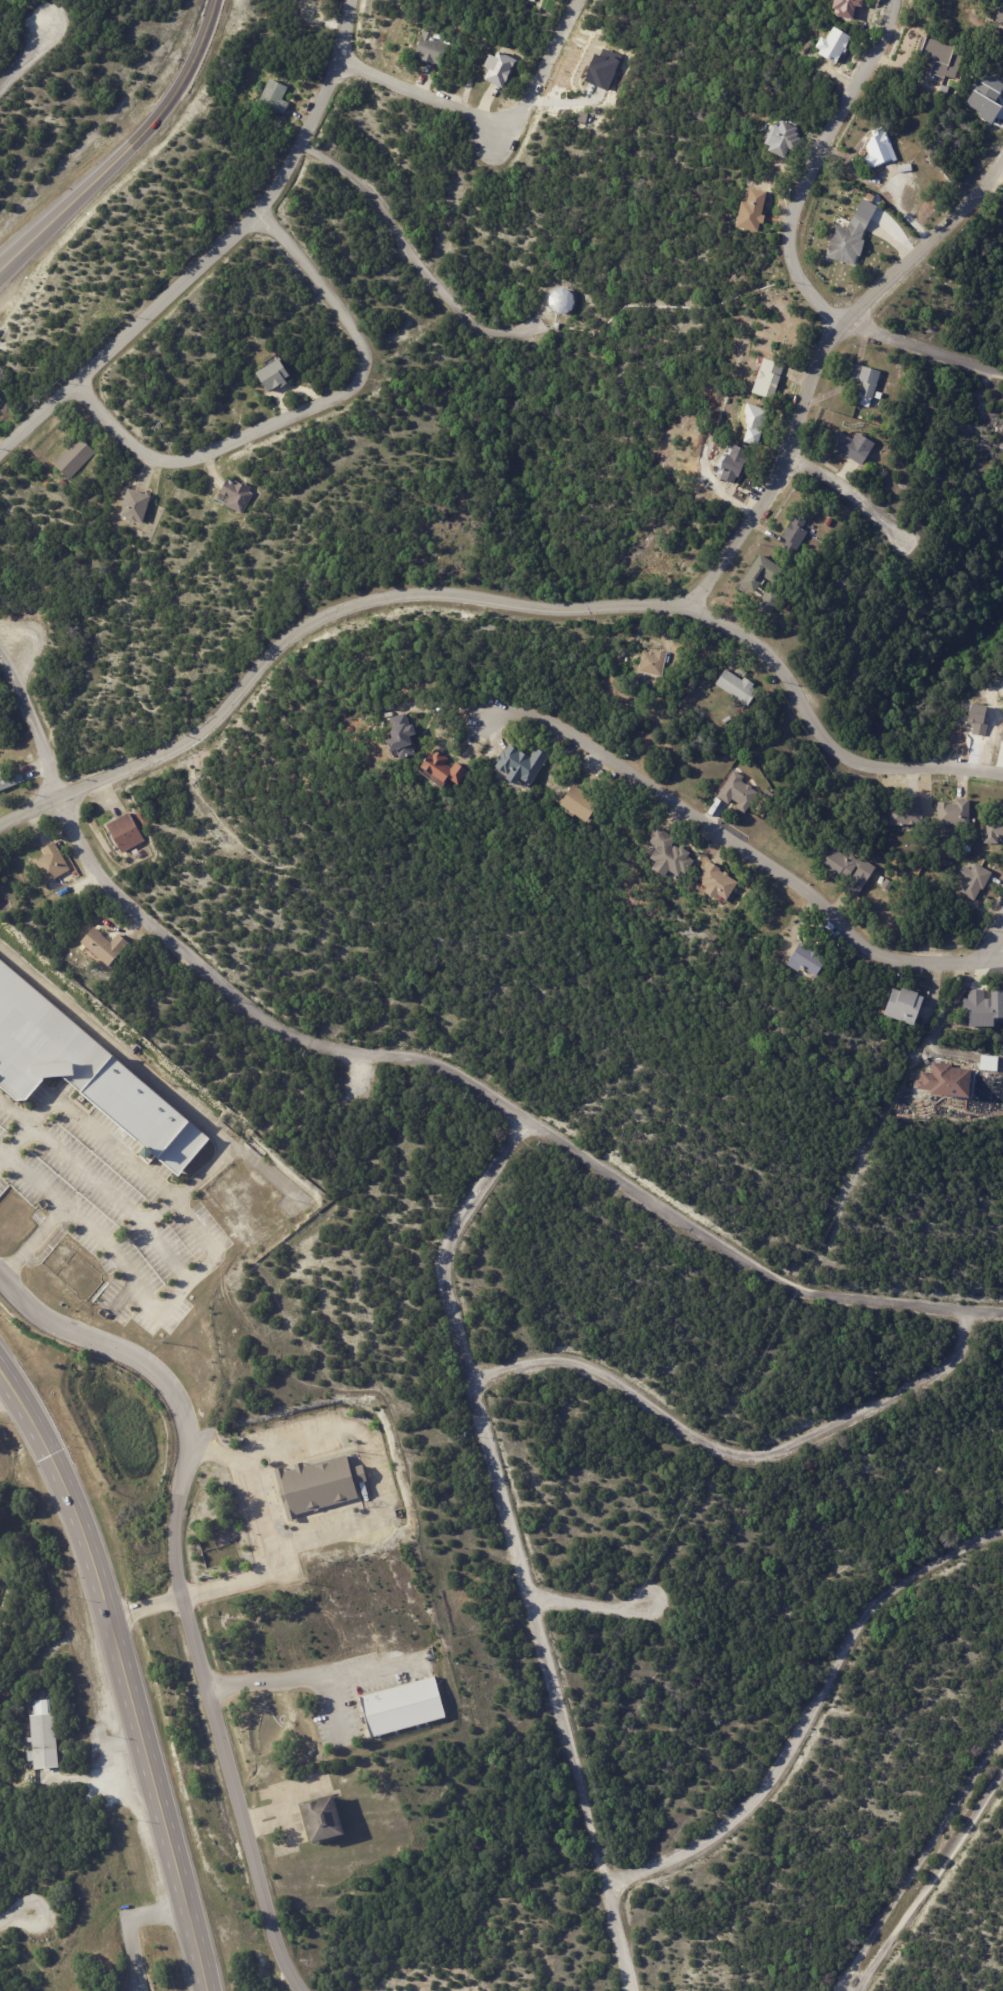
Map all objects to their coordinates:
building: (850, 6)
building: (996, 13)
building: (485, 43)
building: (839, 45)
building: (436, 47)
building: (942, 54)
road: (28, 57)
building: (501, 67)
building: (944, 89)
building: (982, 91)
building: (277, 95)
road: (493, 122)
building: (786, 139)
building: (907, 142)
road: (127, 149)
building: (876, 150)
road: (813, 164)
building: (905, 167)
building: (884, 190)
building: (758, 212)
building: (853, 237)
road: (215, 251)
road: (416, 261)
building: (560, 301)
water tower: (561, 301)
building: (557, 326)
road: (921, 349)
road: (815, 361)
building: (277, 375)
building: (771, 377)
building: (867, 380)
building: (1, 399)
road: (303, 411)
building: (756, 422)
building: (854, 445)
building: (77, 457)
building: (733, 469)
building: (64, 482)
road: (850, 493)
building: (237, 494)
building: (140, 505)
building: (829, 522)
building: (813, 531)
building: (796, 534)
building: (763, 575)
building: (768, 600)
road: (313, 620)
building: (655, 660)
building: (745, 673)
building: (740, 685)
building: (729, 719)
road: (32, 725)
building: (405, 730)
road: (821, 737)
building: (527, 759)
building: (452, 765)
building: (4, 777)
building: (742, 790)
building: (772, 797)
building: (588, 802)
building: (954, 811)
building: (905, 813)
building: (992, 826)
building: (130, 832)
road: (742, 848)
building: (675, 851)
building: (56, 861)
building: (845, 862)
building: (858, 878)
building: (723, 881)
building: (978, 881)
building: (888, 885)
road: (995, 941)
building: (108, 944)
building: (812, 957)
building: (903, 1005)
building: (982, 1005)
road: (941, 1021)
building: (987, 1062)
building: (86, 1071)
building: (944, 1080)
road: (499, 1103)
road: (29, 1127)
road: (107, 1135)
road: (41, 1179)
road: (182, 1205)
road: (5, 1393)
road: (735, 1452)
road: (217, 1455)
road: (368, 1465)
building: (320, 1487)
road: (266, 1502)
road: (516, 1546)
road: (246, 1582)
road: (177, 1590)
road: (588, 1605)
road: (144, 1608)
road: (123, 1674)
road: (297, 1675)
building: (403, 1708)
road: (810, 1714)
building: (44, 1738)
building: (326, 1822)
road: (917, 1861)
road: (933, 1882)
road: (15, 1918)
road: (128, 1926)

